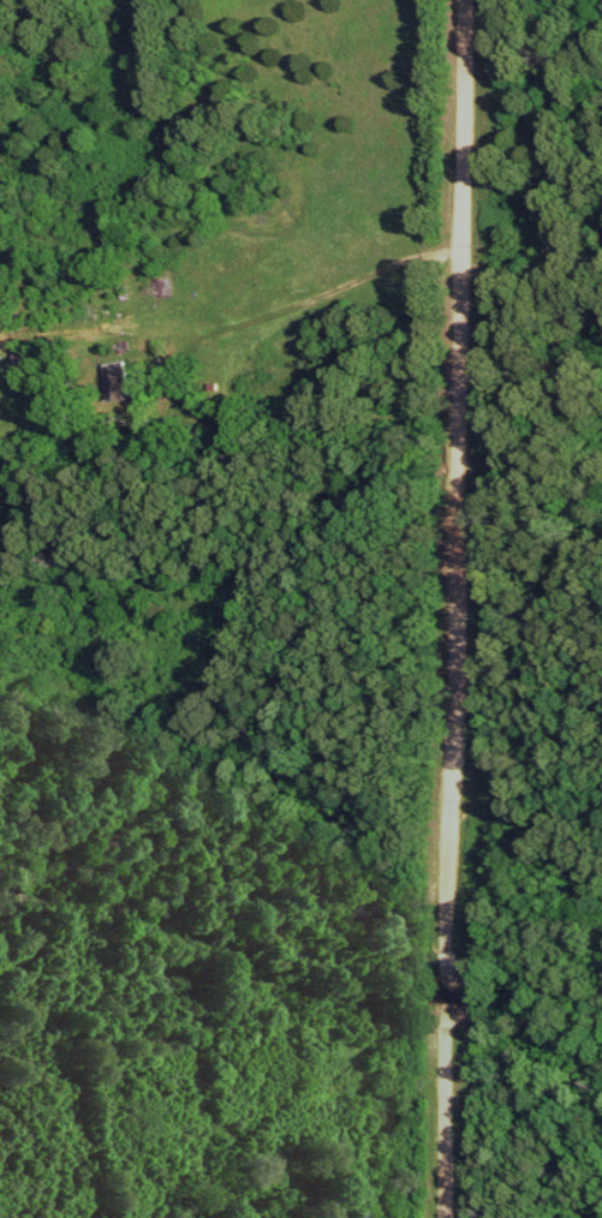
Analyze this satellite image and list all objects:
building: (159, 293)
building: (112, 388)
road: (451, 609)
park: (524, 615)
river: (519, 1076)

